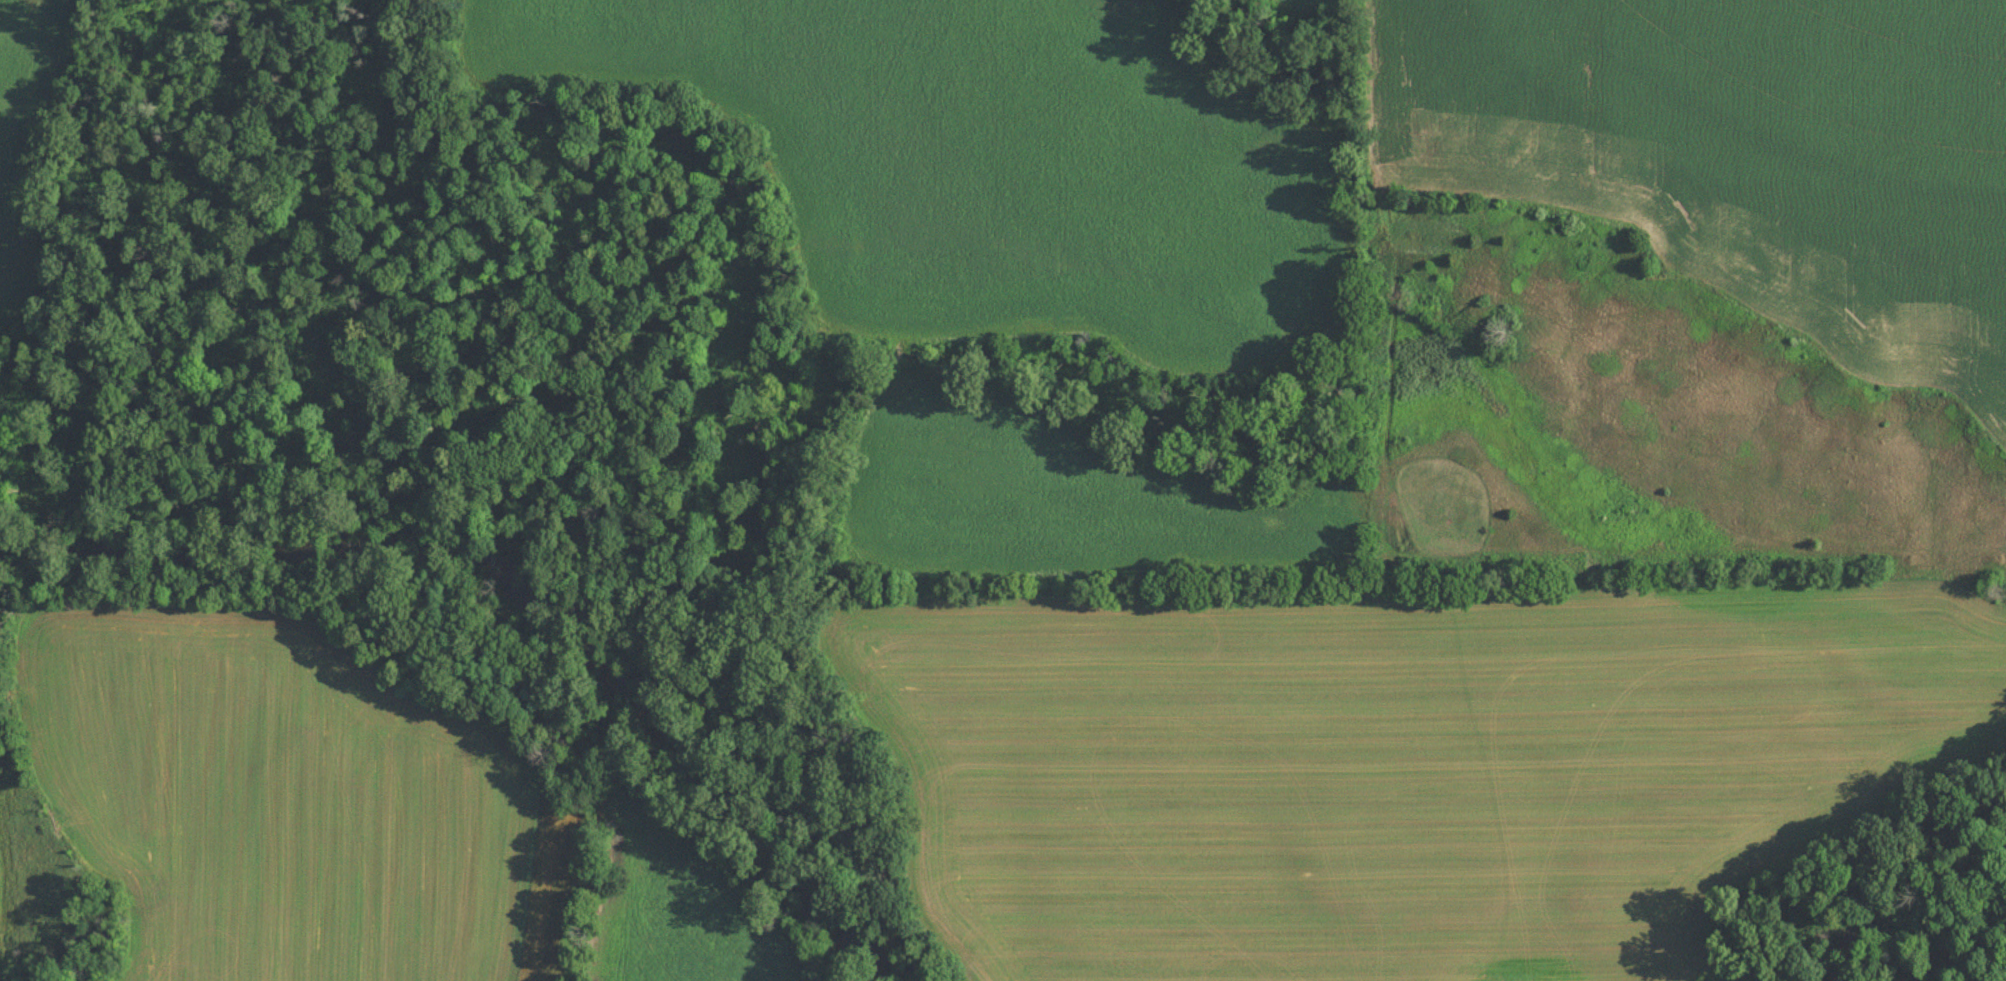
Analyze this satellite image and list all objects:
river: (527, 598)

